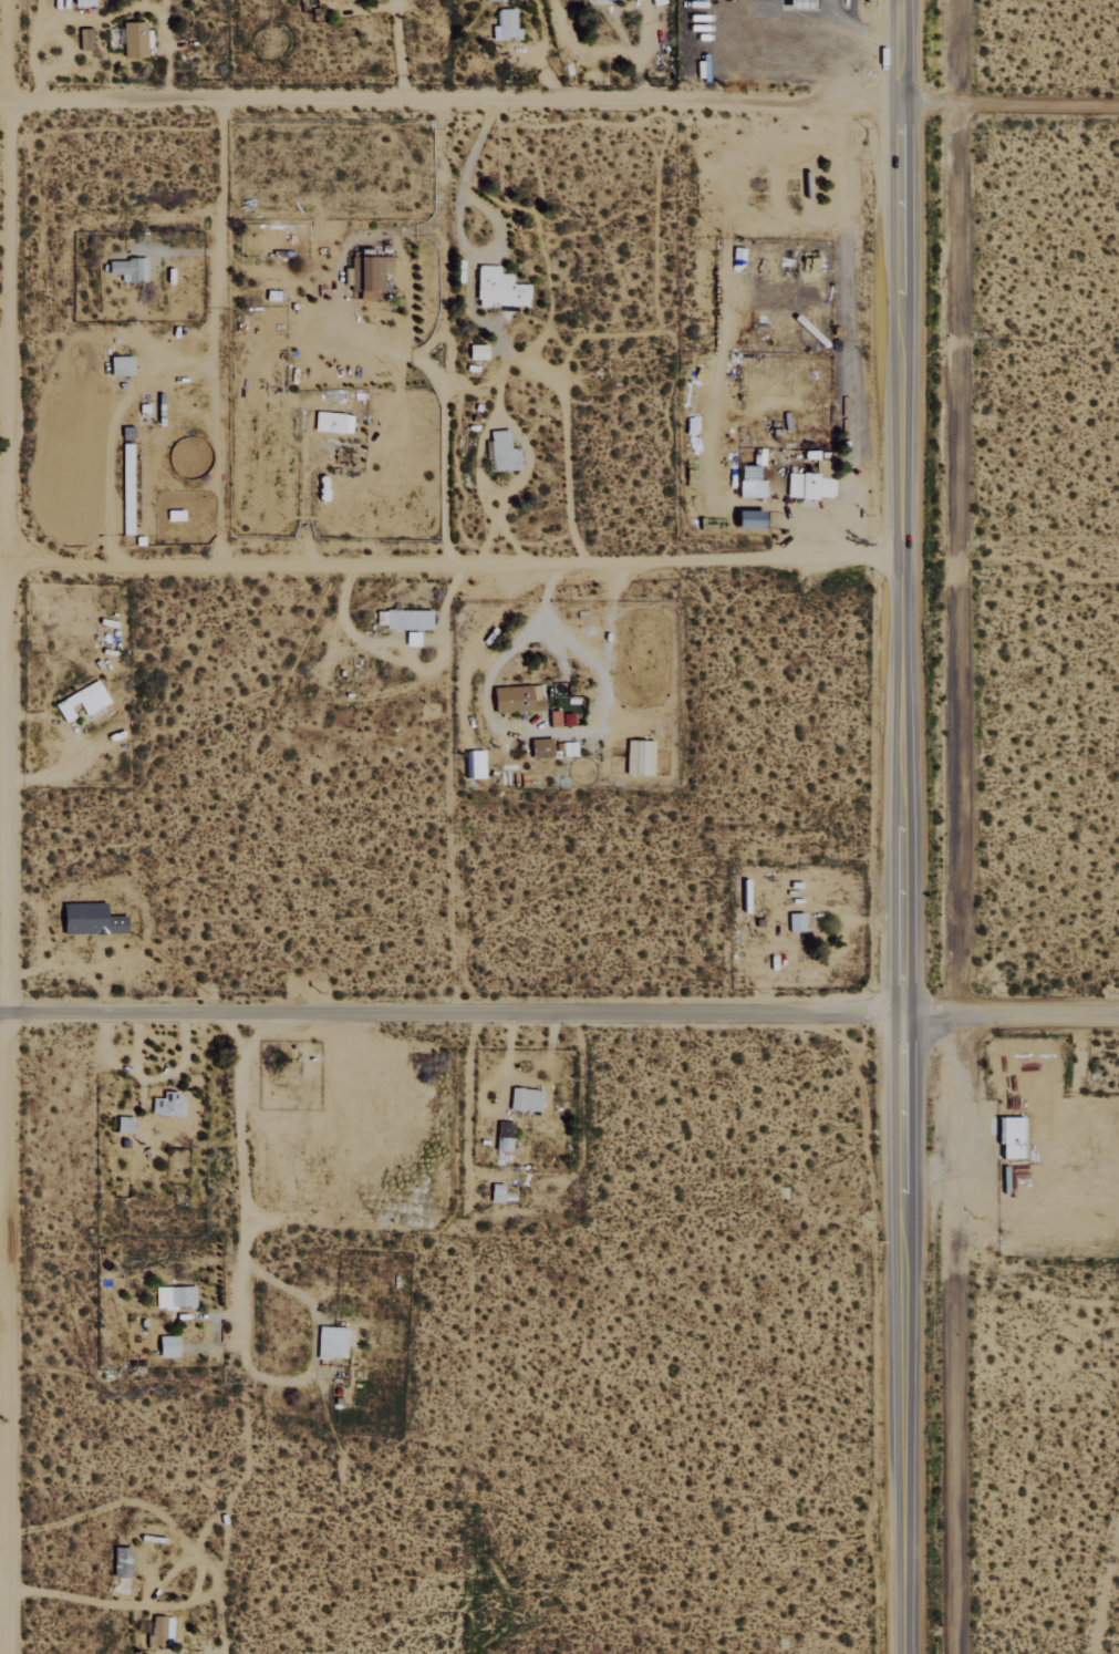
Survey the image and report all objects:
building: (494, 0)
building: (592, 0)
building: (82, 2)
building: (798, 4)
gas station: (798, 4)
building: (506, 25)
road: (863, 30)
building: (84, 40)
building: (134, 40)
road: (450, 100)
road: (1011, 102)
road: (4, 133)
building: (127, 269)
building: (498, 288)
building: (477, 351)
building: (120, 365)
building: (331, 422)
building: (502, 452)
building: (749, 482)
building: (807, 485)
road: (901, 508)
road: (965, 508)
building: (748, 518)
road: (450, 568)
building: (404, 619)
building: (516, 699)
building: (82, 700)
building: (540, 747)
building: (568, 748)
building: (638, 757)
building: (90, 918)
road: (452, 1013)
road: (1011, 1017)
building: (525, 1099)
building: (167, 1104)
building: (124, 1124)
building: (1011, 1137)
road: (231, 1195)
building: (175, 1296)
road: (1, 1333)
road: (901, 1335)
road: (963, 1335)
building: (167, 1346)

